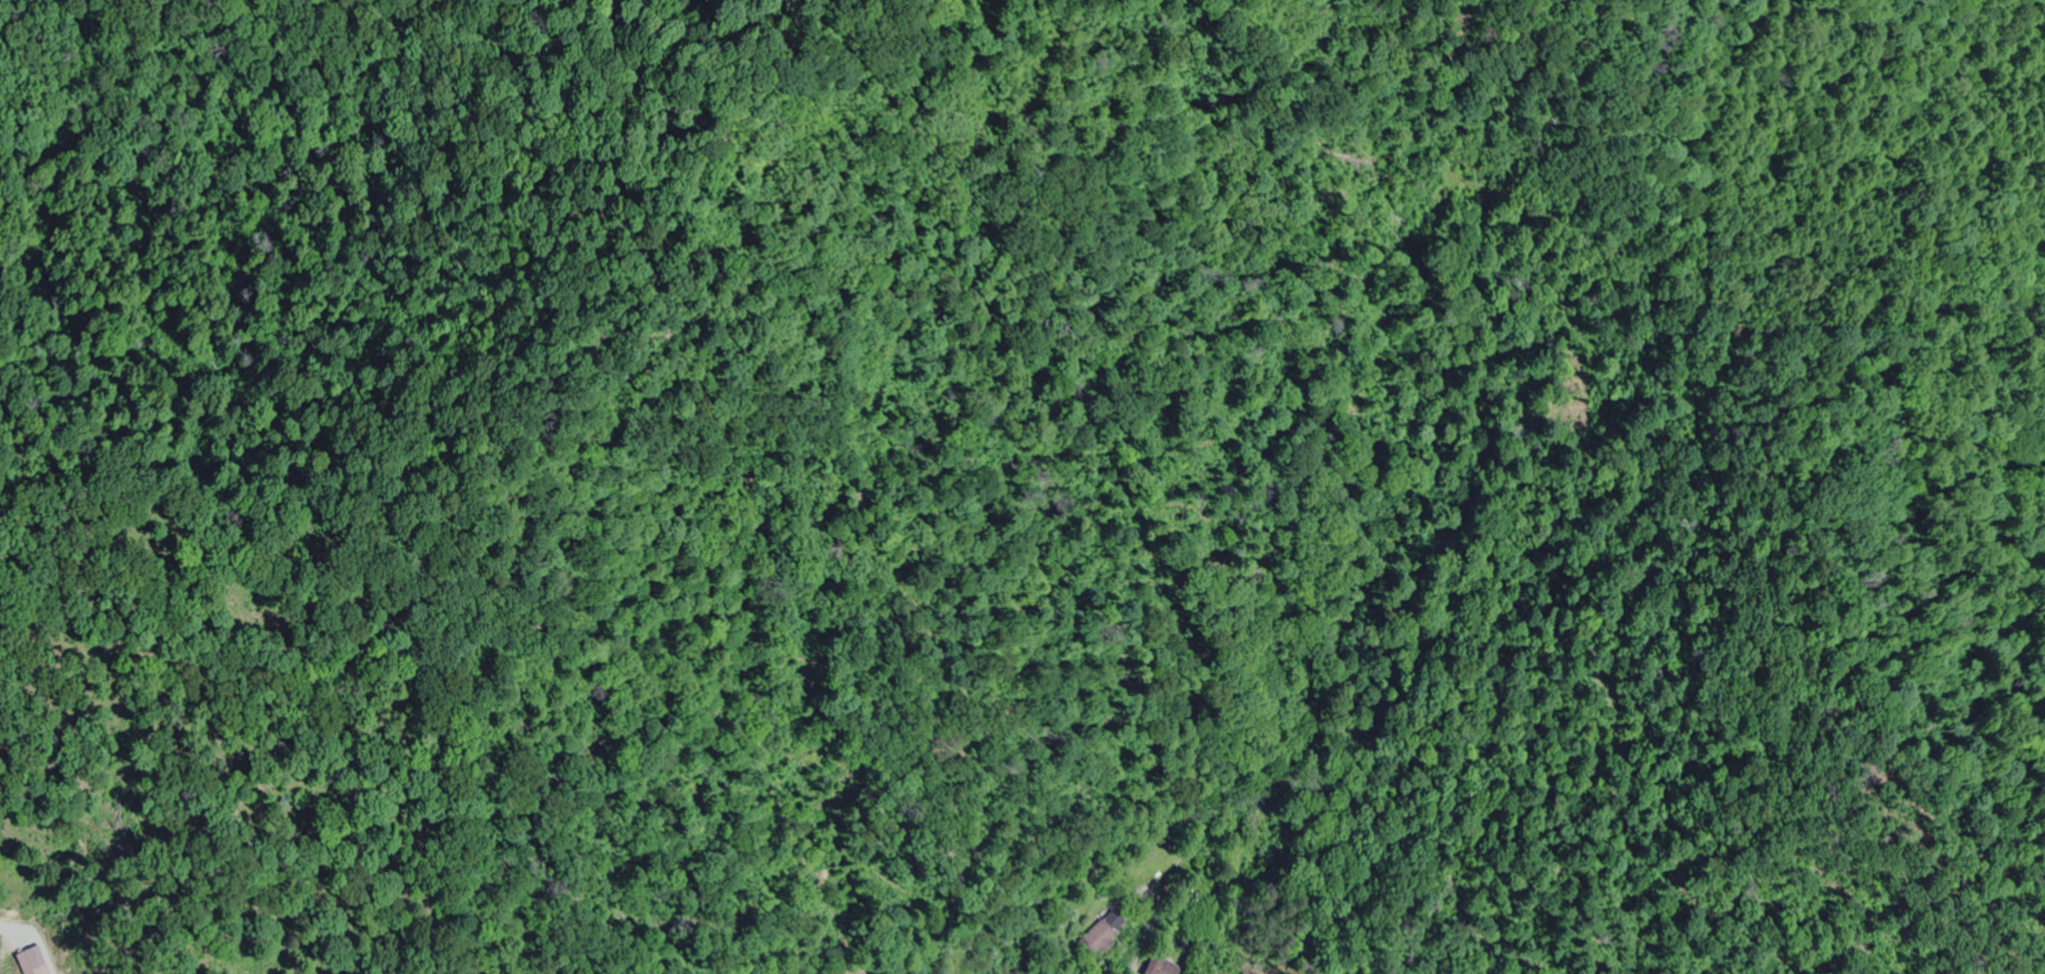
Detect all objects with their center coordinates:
road: (1148, 876)
building: (1094, 932)
building: (31, 960)
building: (1158, 966)

